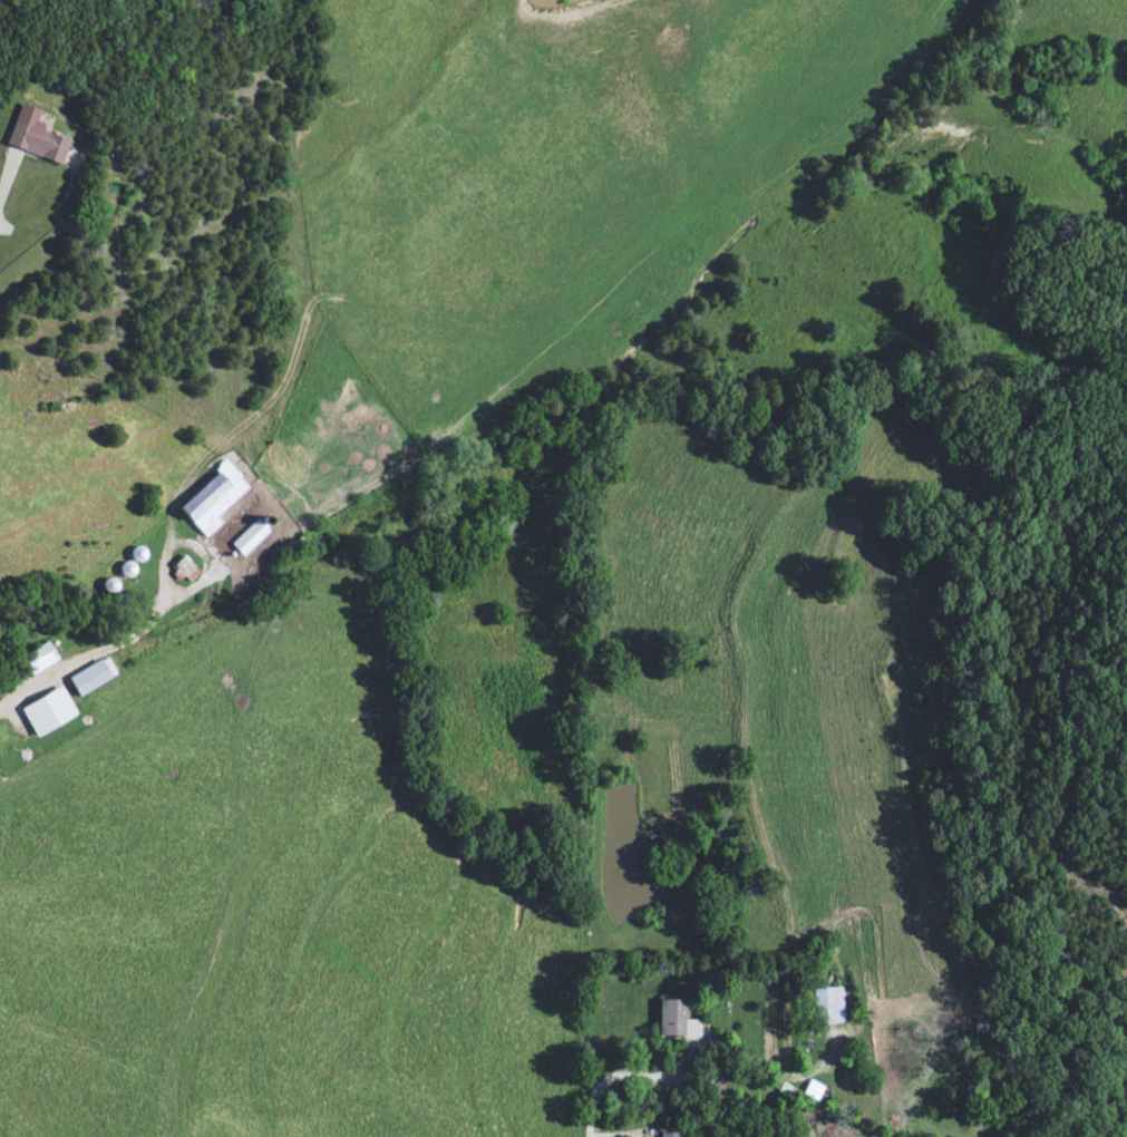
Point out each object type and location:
building: (37, 144)
road: (9, 191)
building: (213, 499)
building: (250, 537)
building: (291, 548)
building: (127, 570)
road: (91, 654)
building: (35, 660)
building: (91, 677)
building: (48, 711)
building: (828, 1005)
building: (671, 1018)
road: (674, 1065)
building: (670, 1136)

